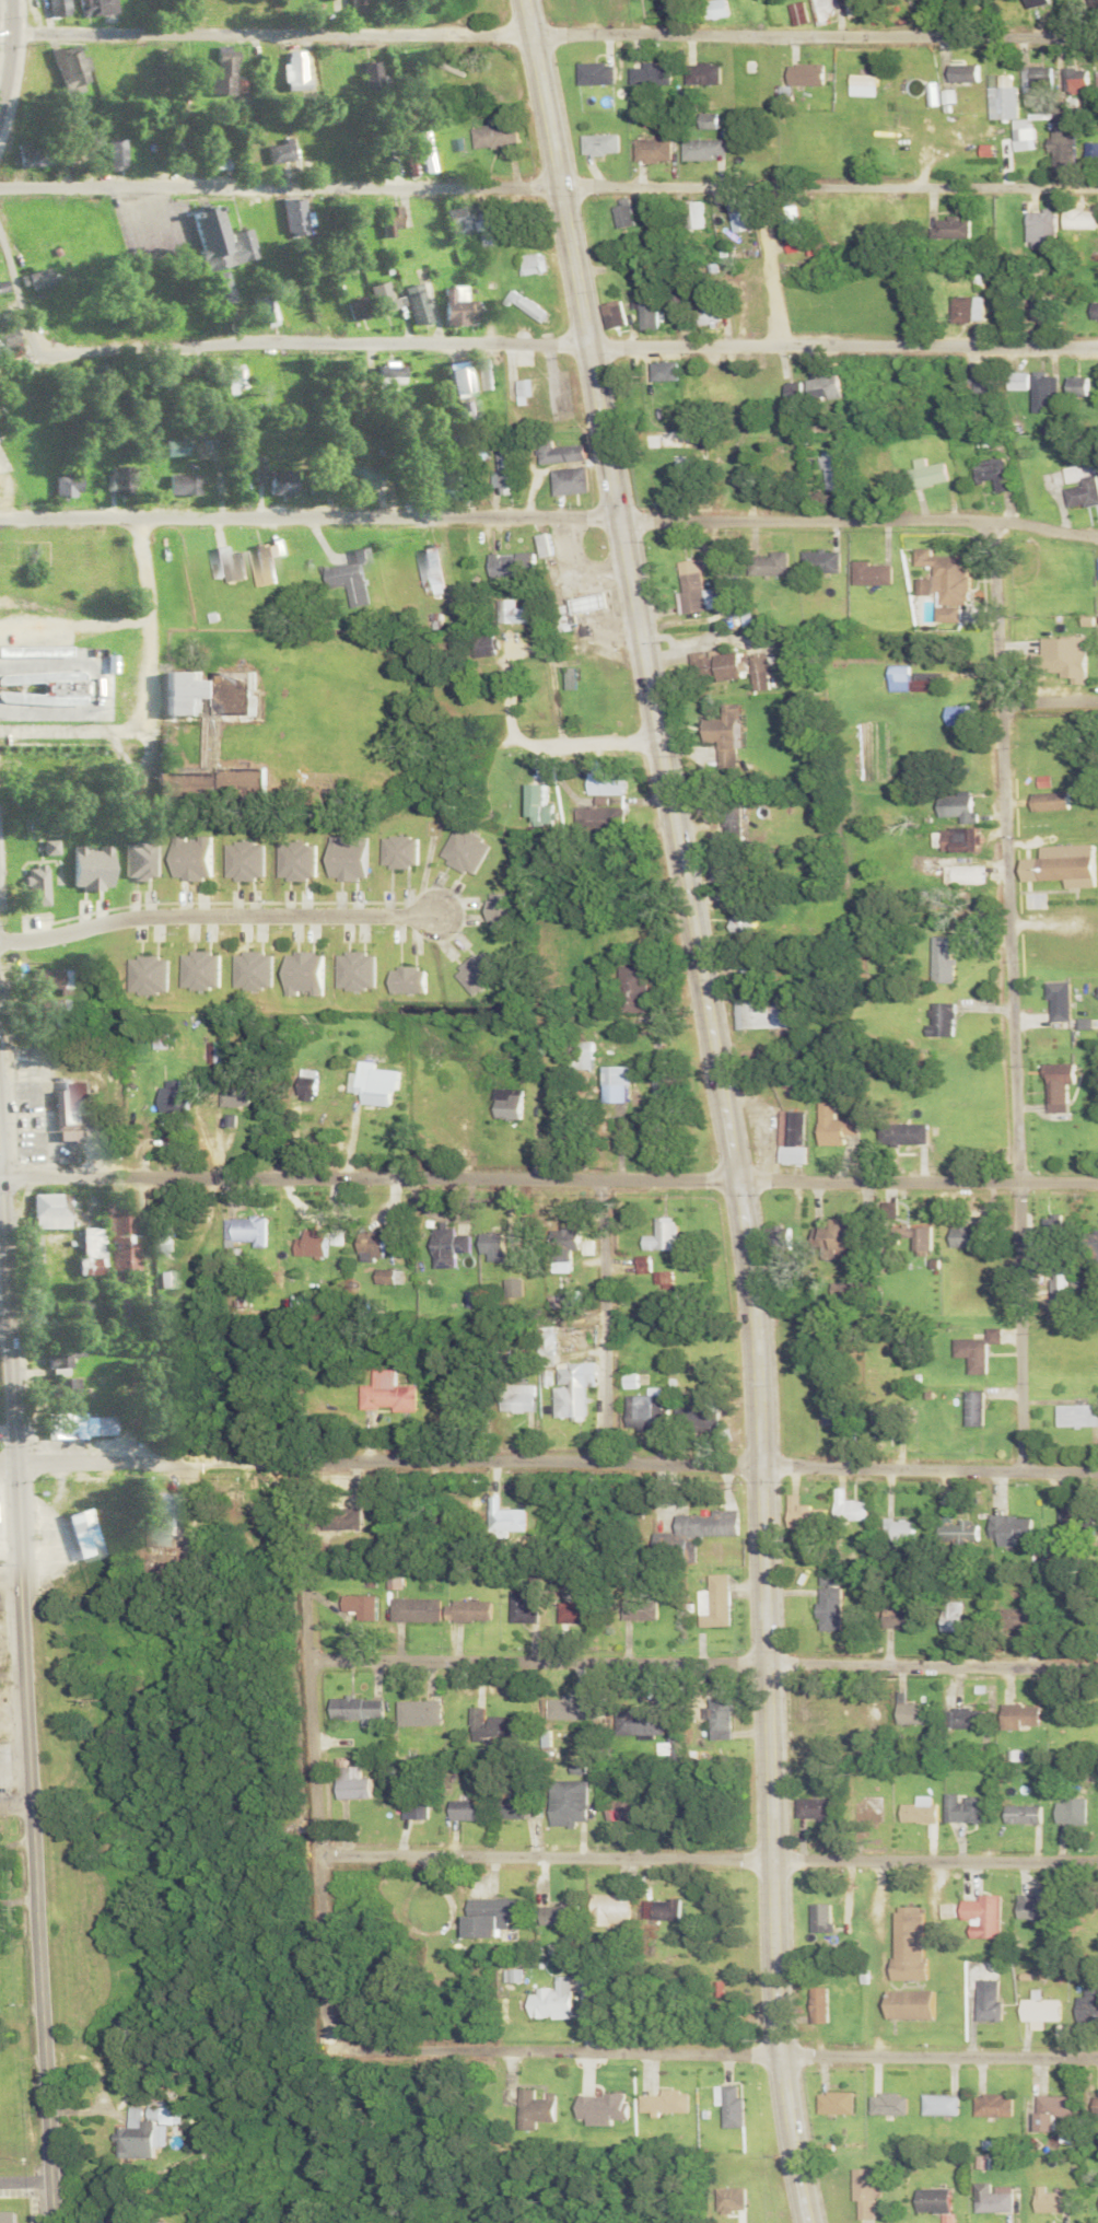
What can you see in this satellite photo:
road: (939, 15)
road: (267, 27)
road: (816, 28)
road: (8, 48)
road: (548, 184)
road: (17, 293)
road: (565, 339)
road: (549, 514)
road: (147, 633)
road: (1049, 697)
road: (55, 724)
road: (1005, 846)
road: (212, 917)
road: (727, 1105)
road: (549, 1173)
road: (608, 1314)
road: (1020, 1320)
road: (3, 1324)
road: (549, 1455)
road: (703, 1657)
road: (30, 1697)
road: (17, 1799)
road: (709, 1851)
road: (424, 2045)

